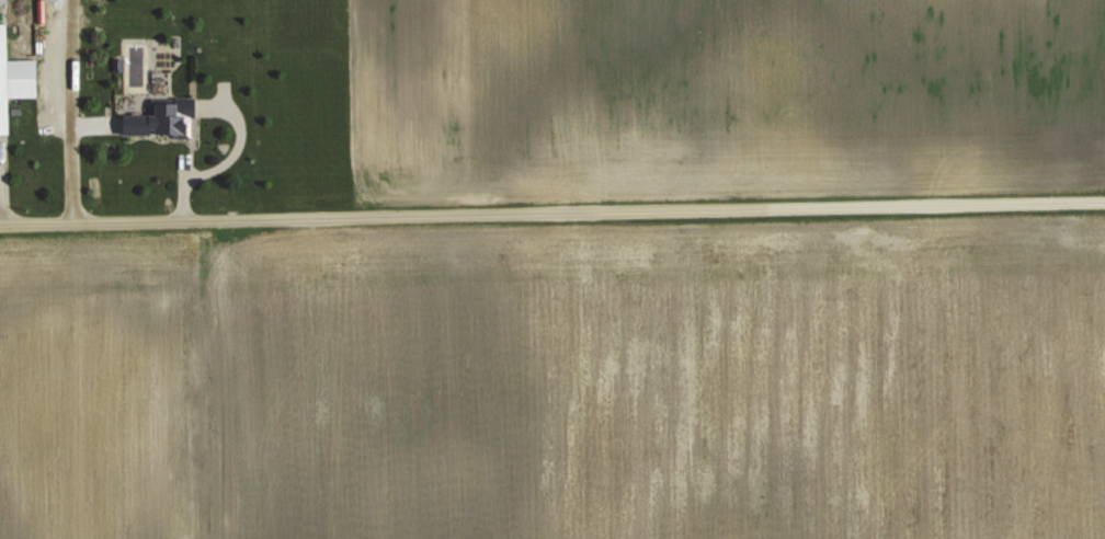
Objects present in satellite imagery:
building: (13, 80)
road: (72, 111)
building: (158, 130)
road: (552, 211)

